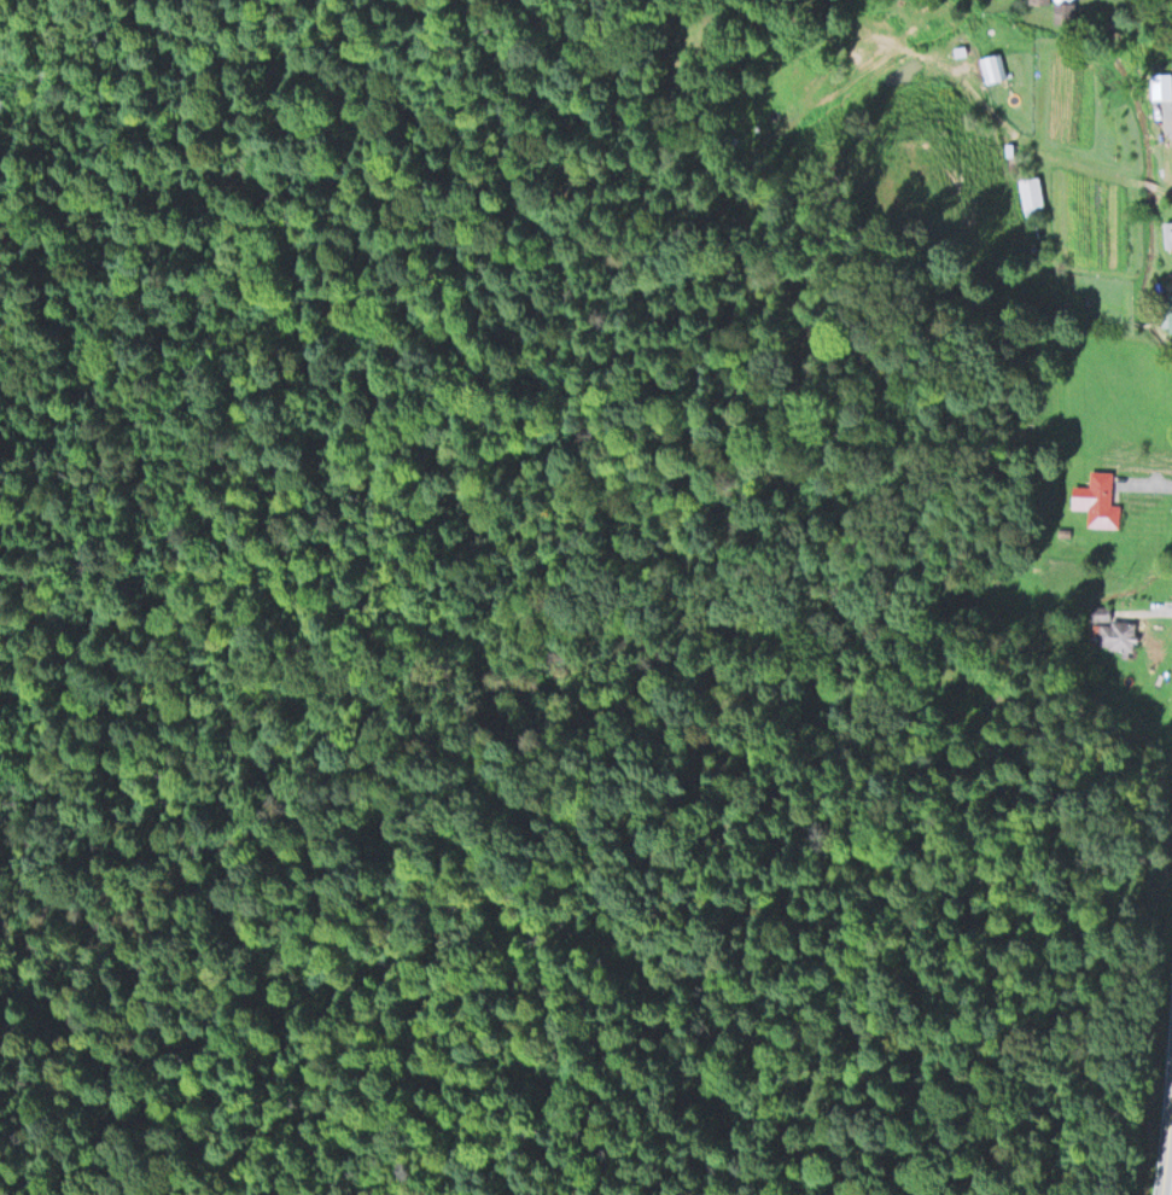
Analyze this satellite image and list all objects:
building: (1037, 0)
road: (7, 18)
building: (1164, 84)
road: (980, 98)
road: (1150, 182)
road: (1167, 187)
building: (1031, 190)
building: (1167, 231)
building: (1167, 308)
building: (1100, 500)
building: (1062, 531)
building: (1100, 611)
building: (1118, 633)
road: (1170, 1142)

